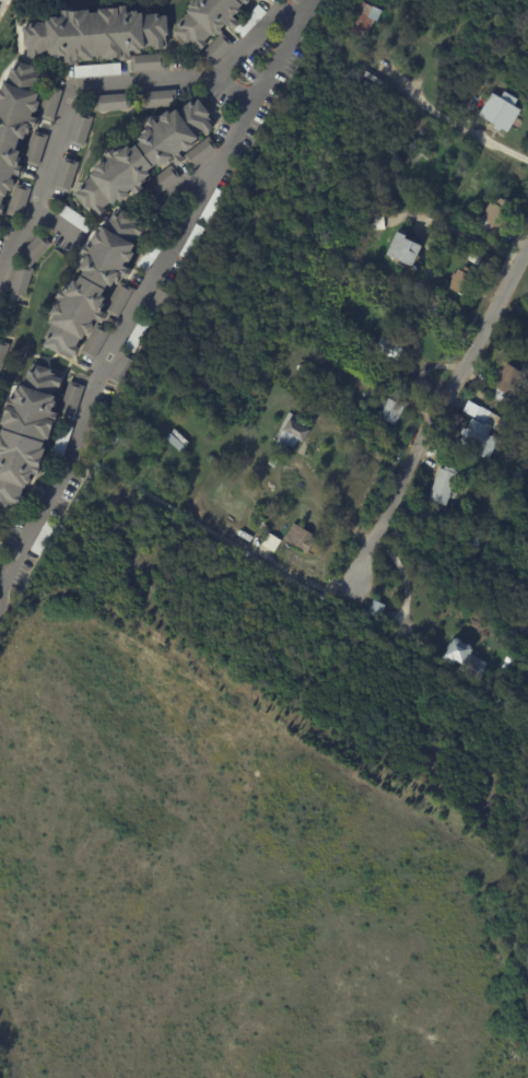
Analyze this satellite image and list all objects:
building: (259, 1)
building: (296, 1)
building: (365, 20)
building: (251, 21)
building: (212, 26)
building: (102, 37)
building: (99, 71)
building: (377, 80)
road: (92, 85)
road: (235, 89)
building: (162, 99)
building: (115, 103)
building: (503, 112)
road: (453, 122)
building: (22, 130)
building: (82, 130)
building: (469, 145)
building: (37, 149)
building: (151, 159)
building: (68, 176)
road: (177, 195)
building: (215, 207)
building: (493, 214)
building: (77, 219)
building: (379, 223)
building: (196, 243)
building: (35, 250)
building: (407, 250)
building: (153, 255)
building: (476, 259)
building: (432, 273)
building: (21, 282)
building: (461, 282)
building: (96, 290)
road: (142, 293)
building: (161, 305)
building: (434, 310)
building: (139, 336)
building: (391, 349)
building: (3, 353)
building: (124, 370)
building: (507, 384)
building: (73, 399)
building: (175, 407)
building: (394, 412)
building: (150, 417)
building: (138, 429)
building: (118, 435)
building: (294, 436)
building: (485, 436)
building: (28, 437)
road: (437, 437)
building: (179, 442)
building: (63, 443)
building: (127, 447)
building: (162, 448)
building: (275, 462)
building: (157, 473)
building: (519, 480)
building: (445, 485)
building: (438, 508)
building: (263, 525)
building: (240, 534)
building: (478, 537)
building: (44, 538)
building: (302, 539)
building: (1, 560)
road: (402, 576)
building: (378, 610)
building: (466, 660)
building: (507, 668)
building: (524, 683)
building: (526, 693)

